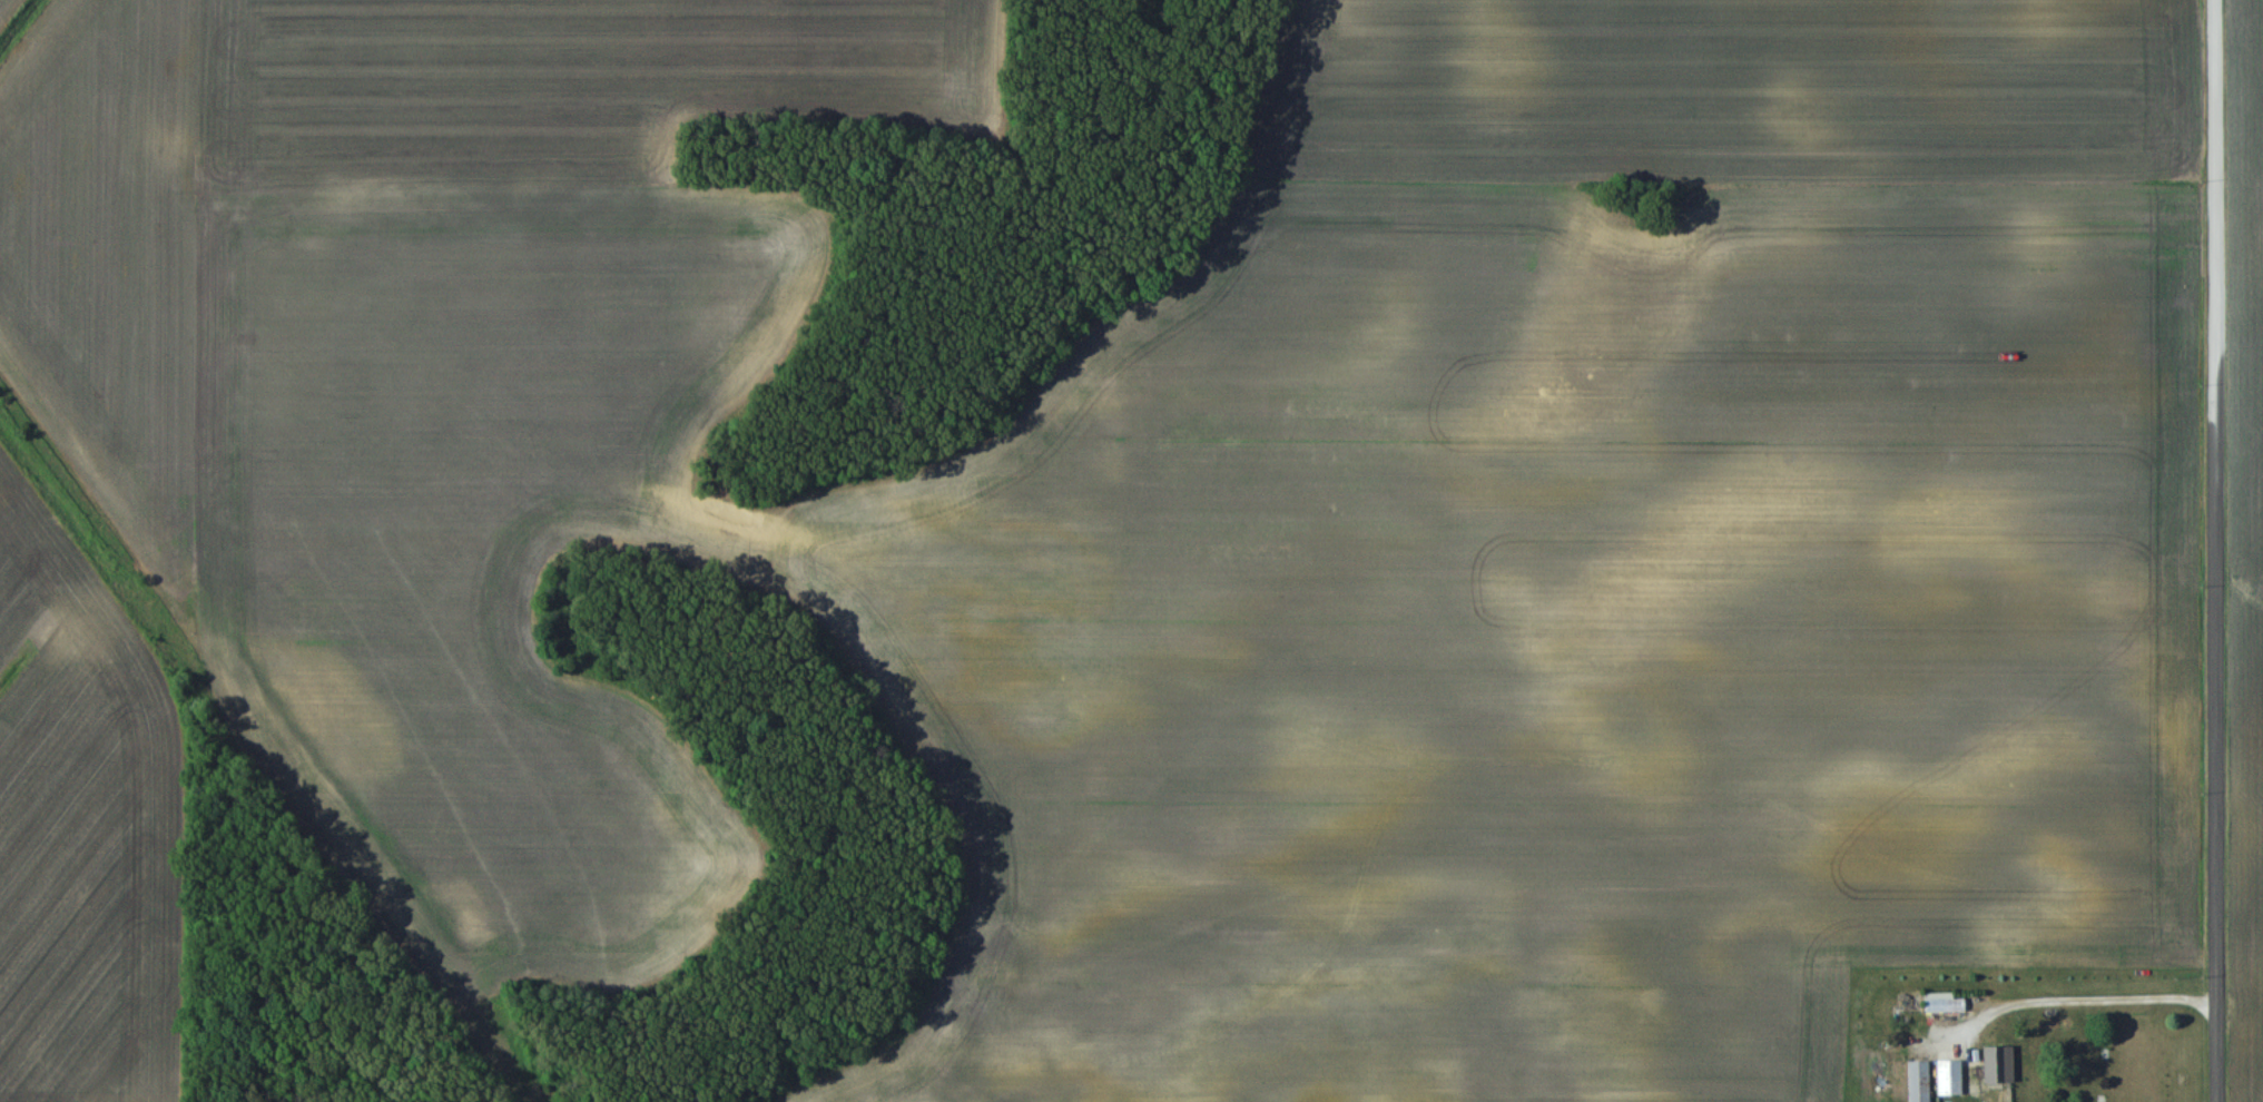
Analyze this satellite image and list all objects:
road: (2220, 550)
road: (2066, 997)
building: (1935, 1006)
building: (1994, 1063)
building: (1944, 1076)
building: (1913, 1081)

